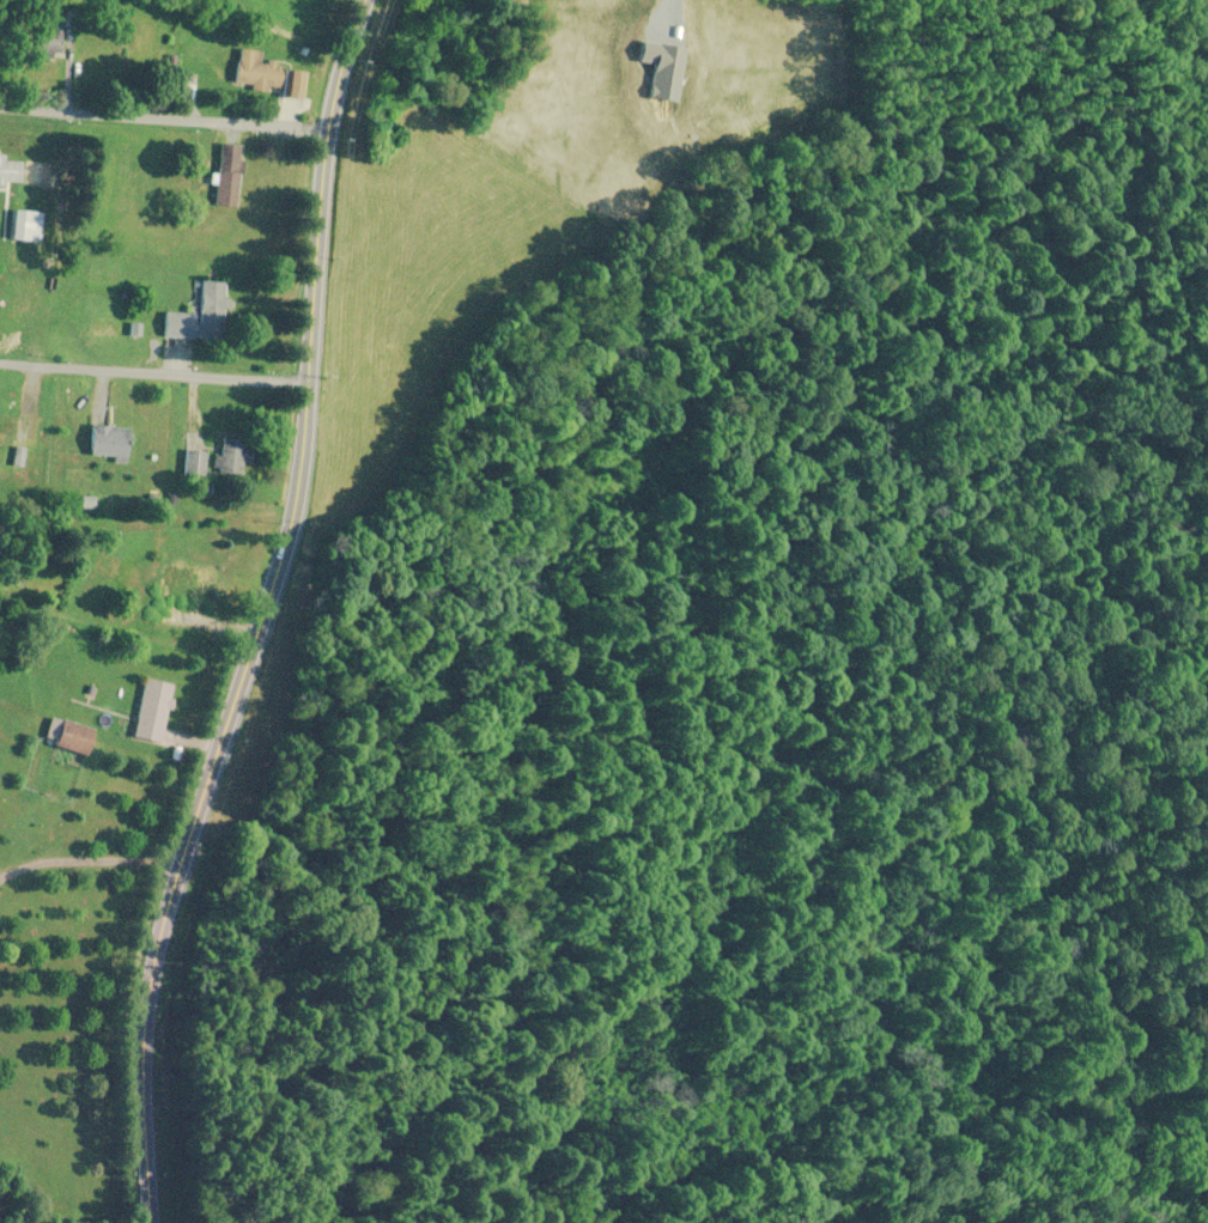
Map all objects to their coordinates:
road: (964, 26)
building: (268, 75)
road: (164, 115)
building: (10, 170)
building: (227, 183)
building: (23, 225)
building: (199, 315)
road: (153, 381)
building: (14, 432)
building: (110, 443)
building: (232, 456)
building: (195, 463)
building: (176, 595)
road: (260, 615)
building: (153, 712)
building: (75, 738)
road: (71, 1105)

